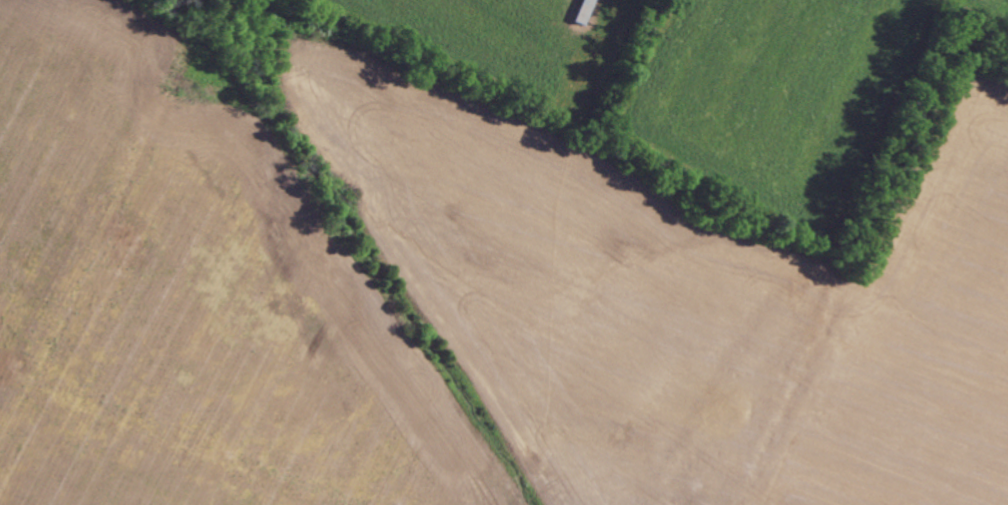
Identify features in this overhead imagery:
building: (584, 11)

